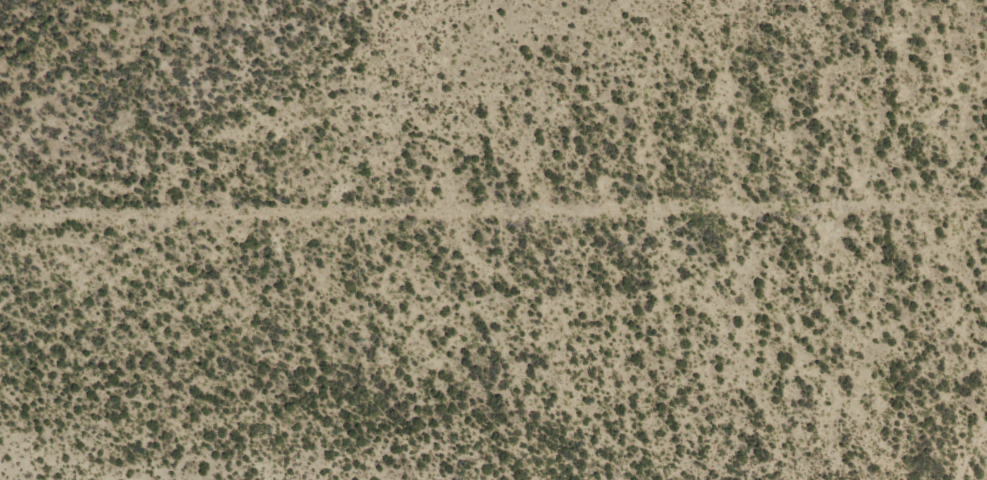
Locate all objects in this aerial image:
road: (974, 441)

